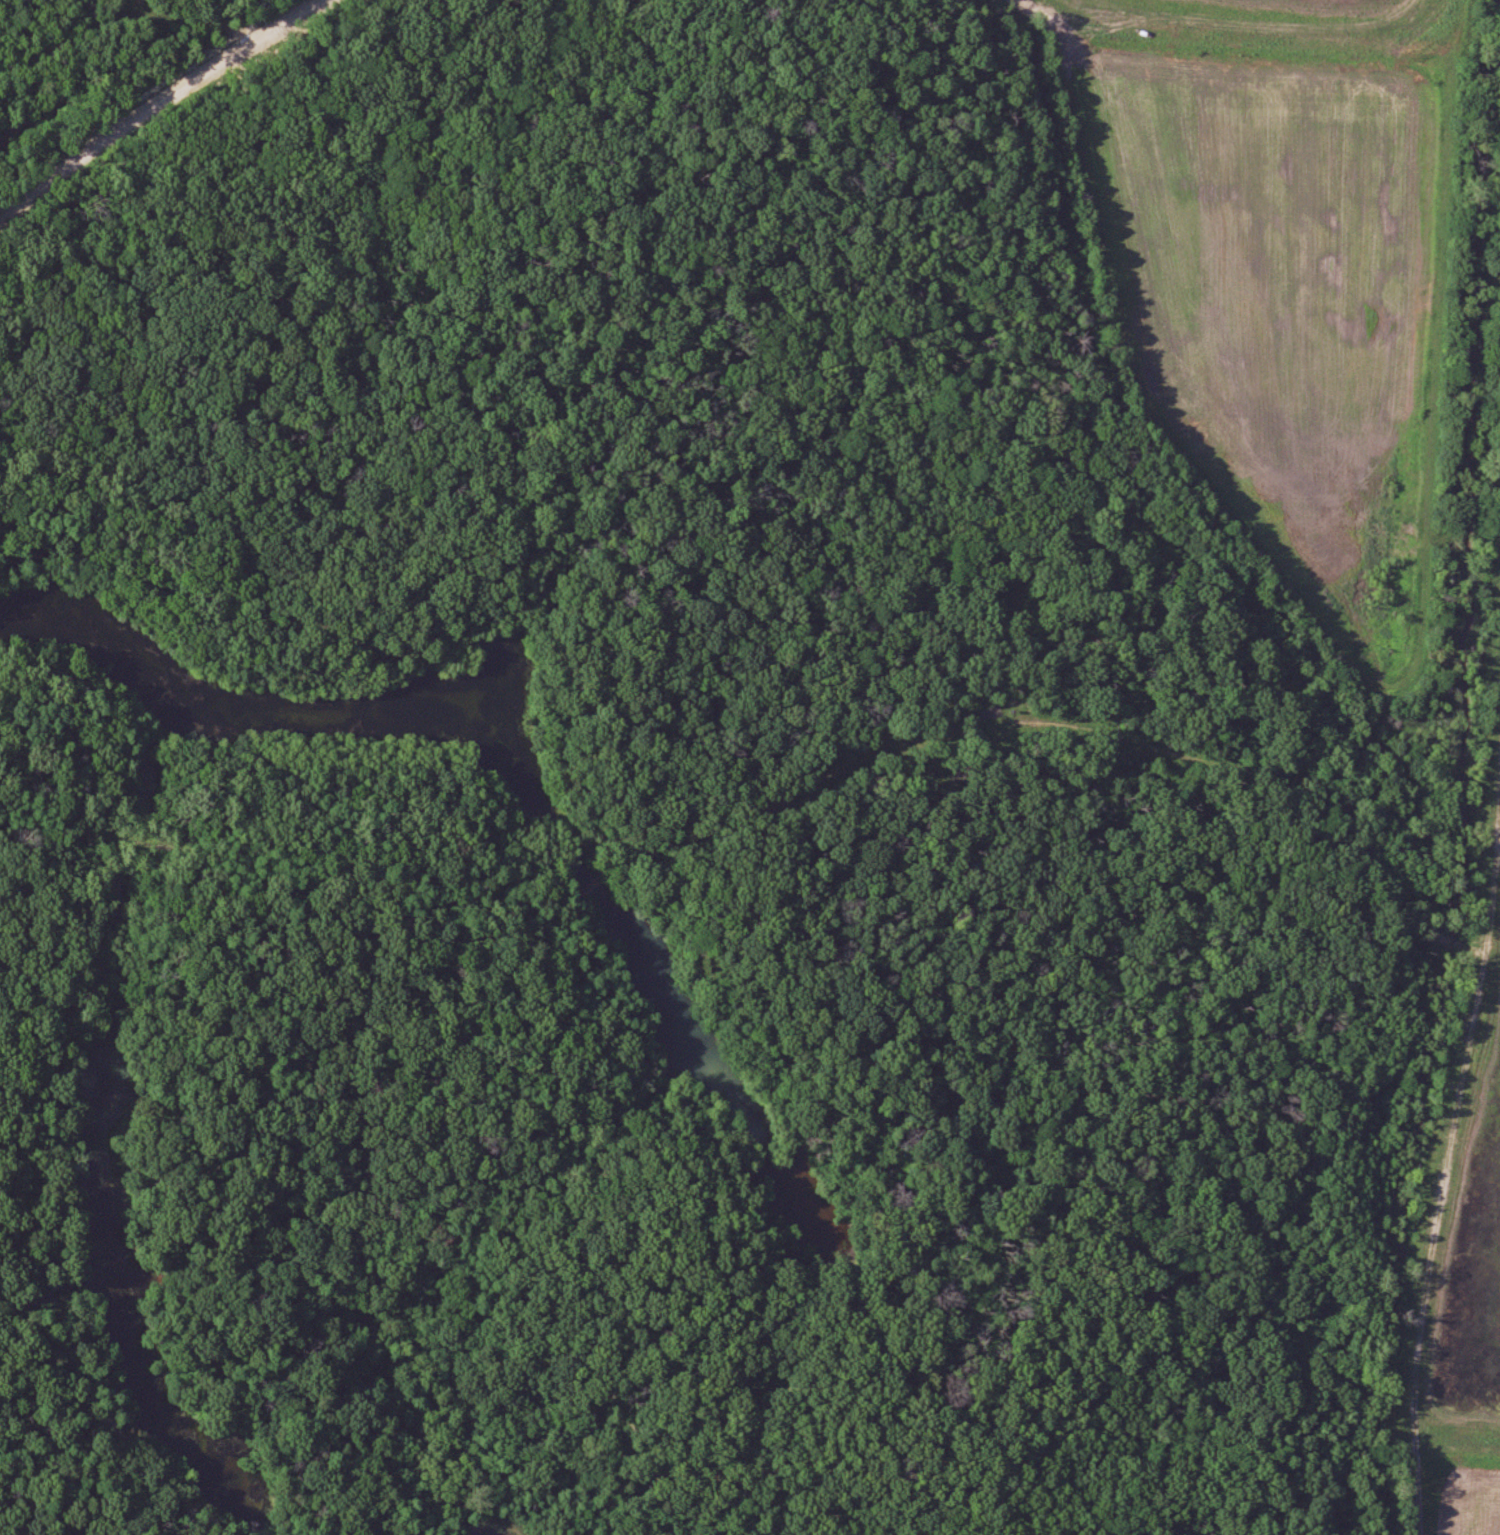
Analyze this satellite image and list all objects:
road: (153, 102)

